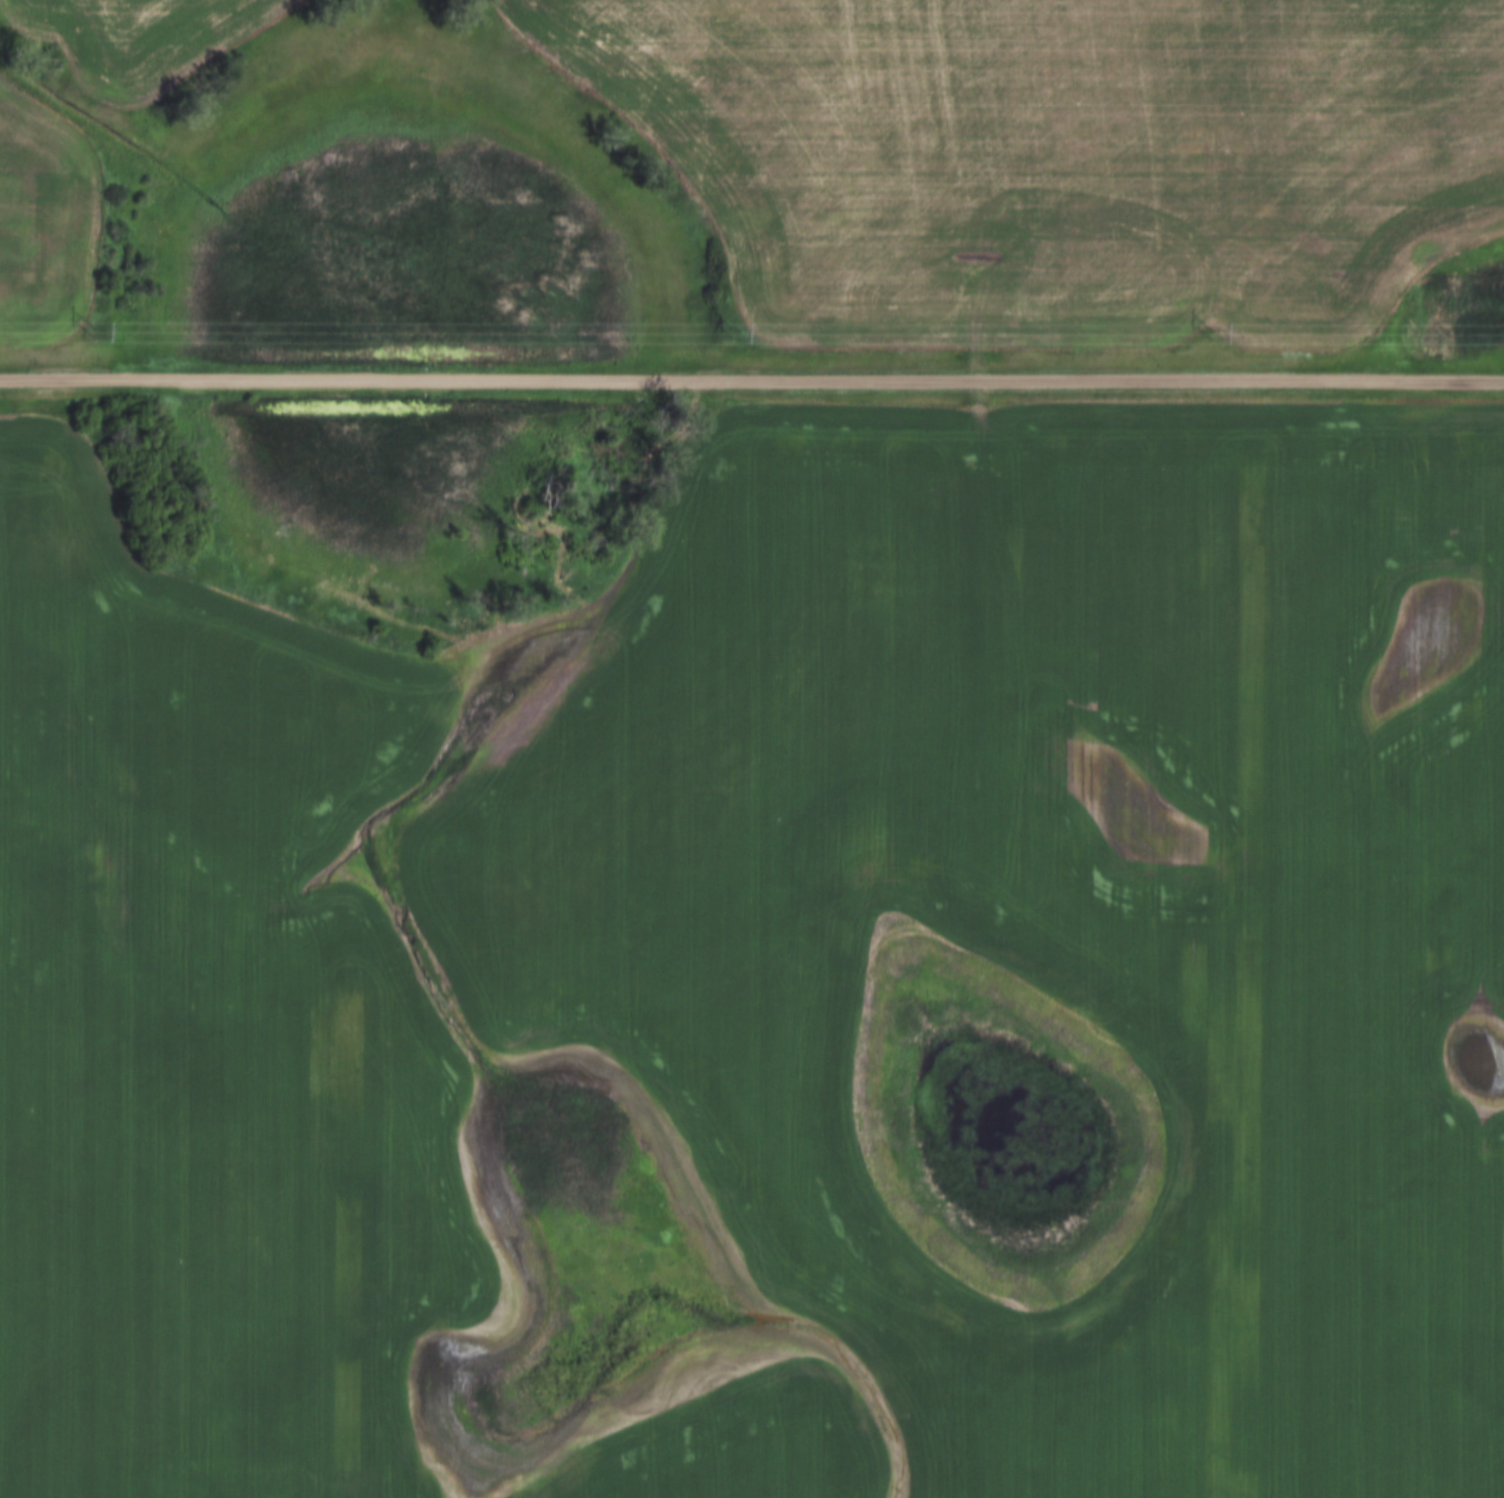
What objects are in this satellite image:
road: (751, 381)

